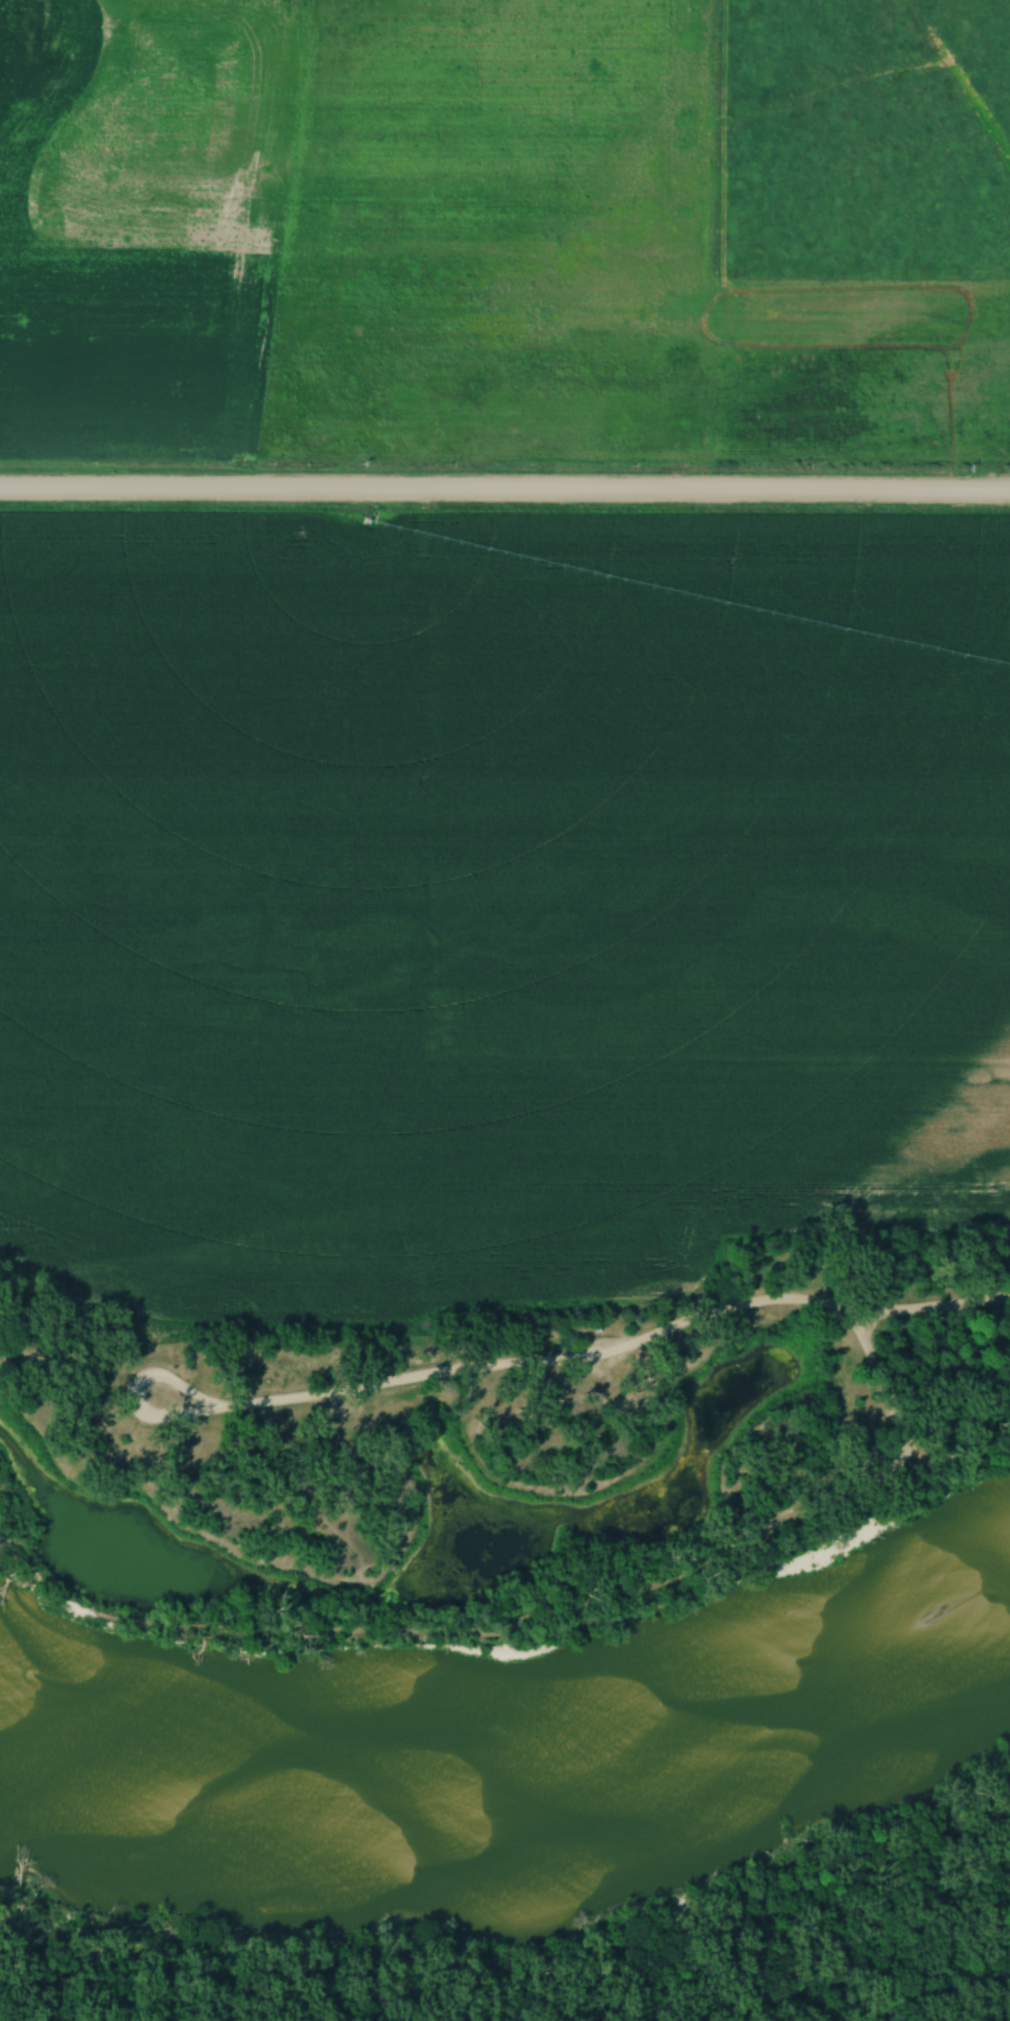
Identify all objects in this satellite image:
road: (504, 496)
road: (610, 1348)
road: (162, 1379)
road: (877, 1383)
park: (504, 1451)
river: (517, 1752)

